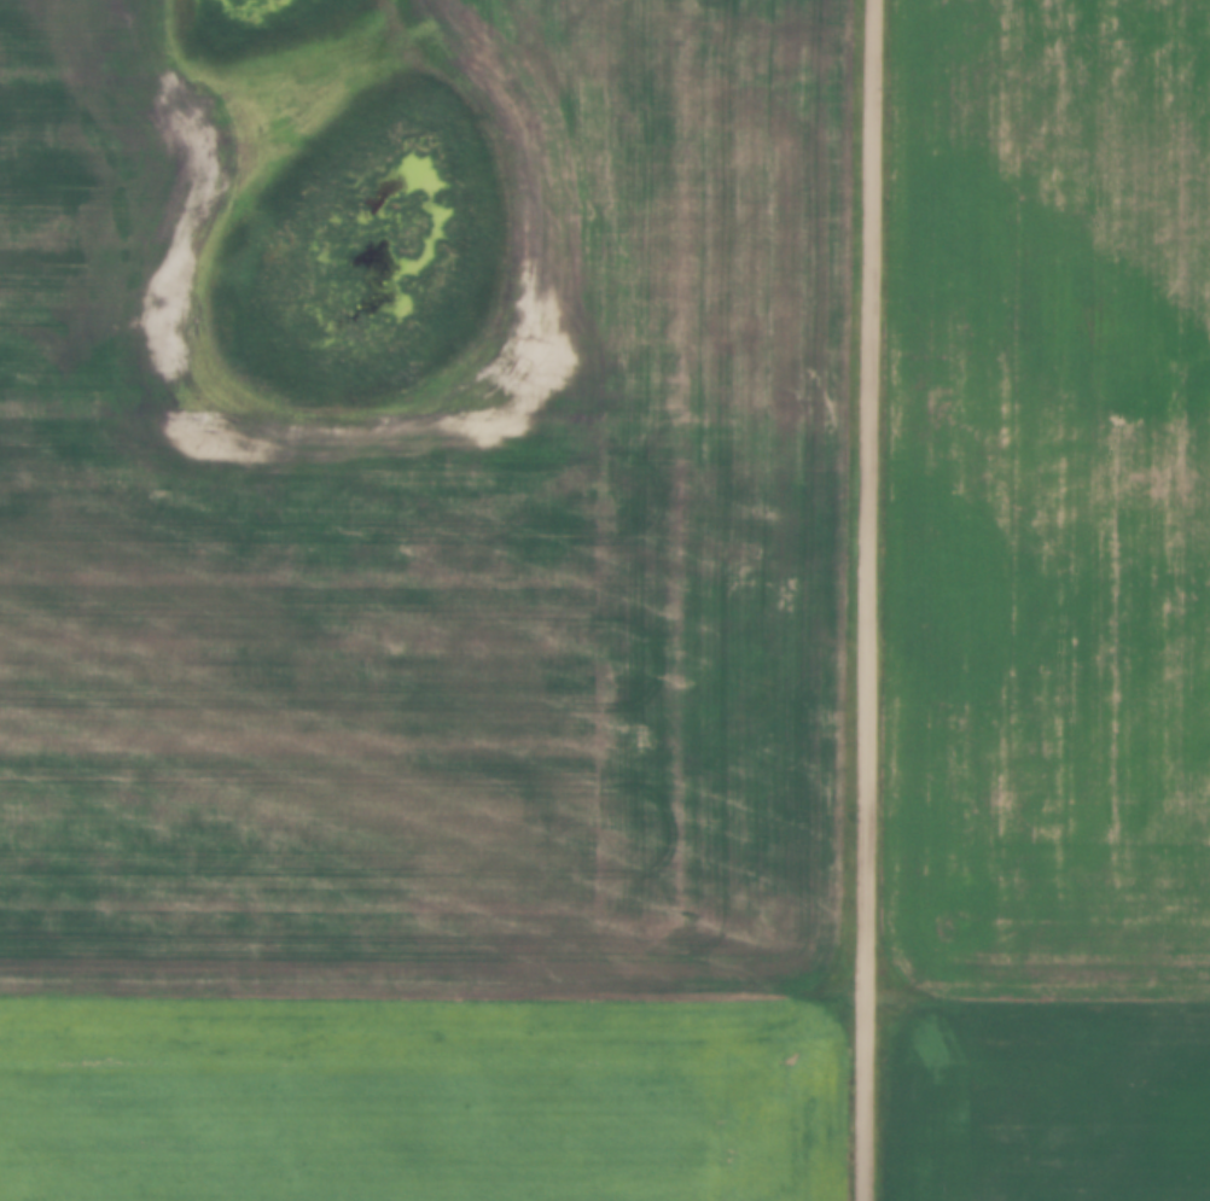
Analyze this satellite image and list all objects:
road: (863, 600)

